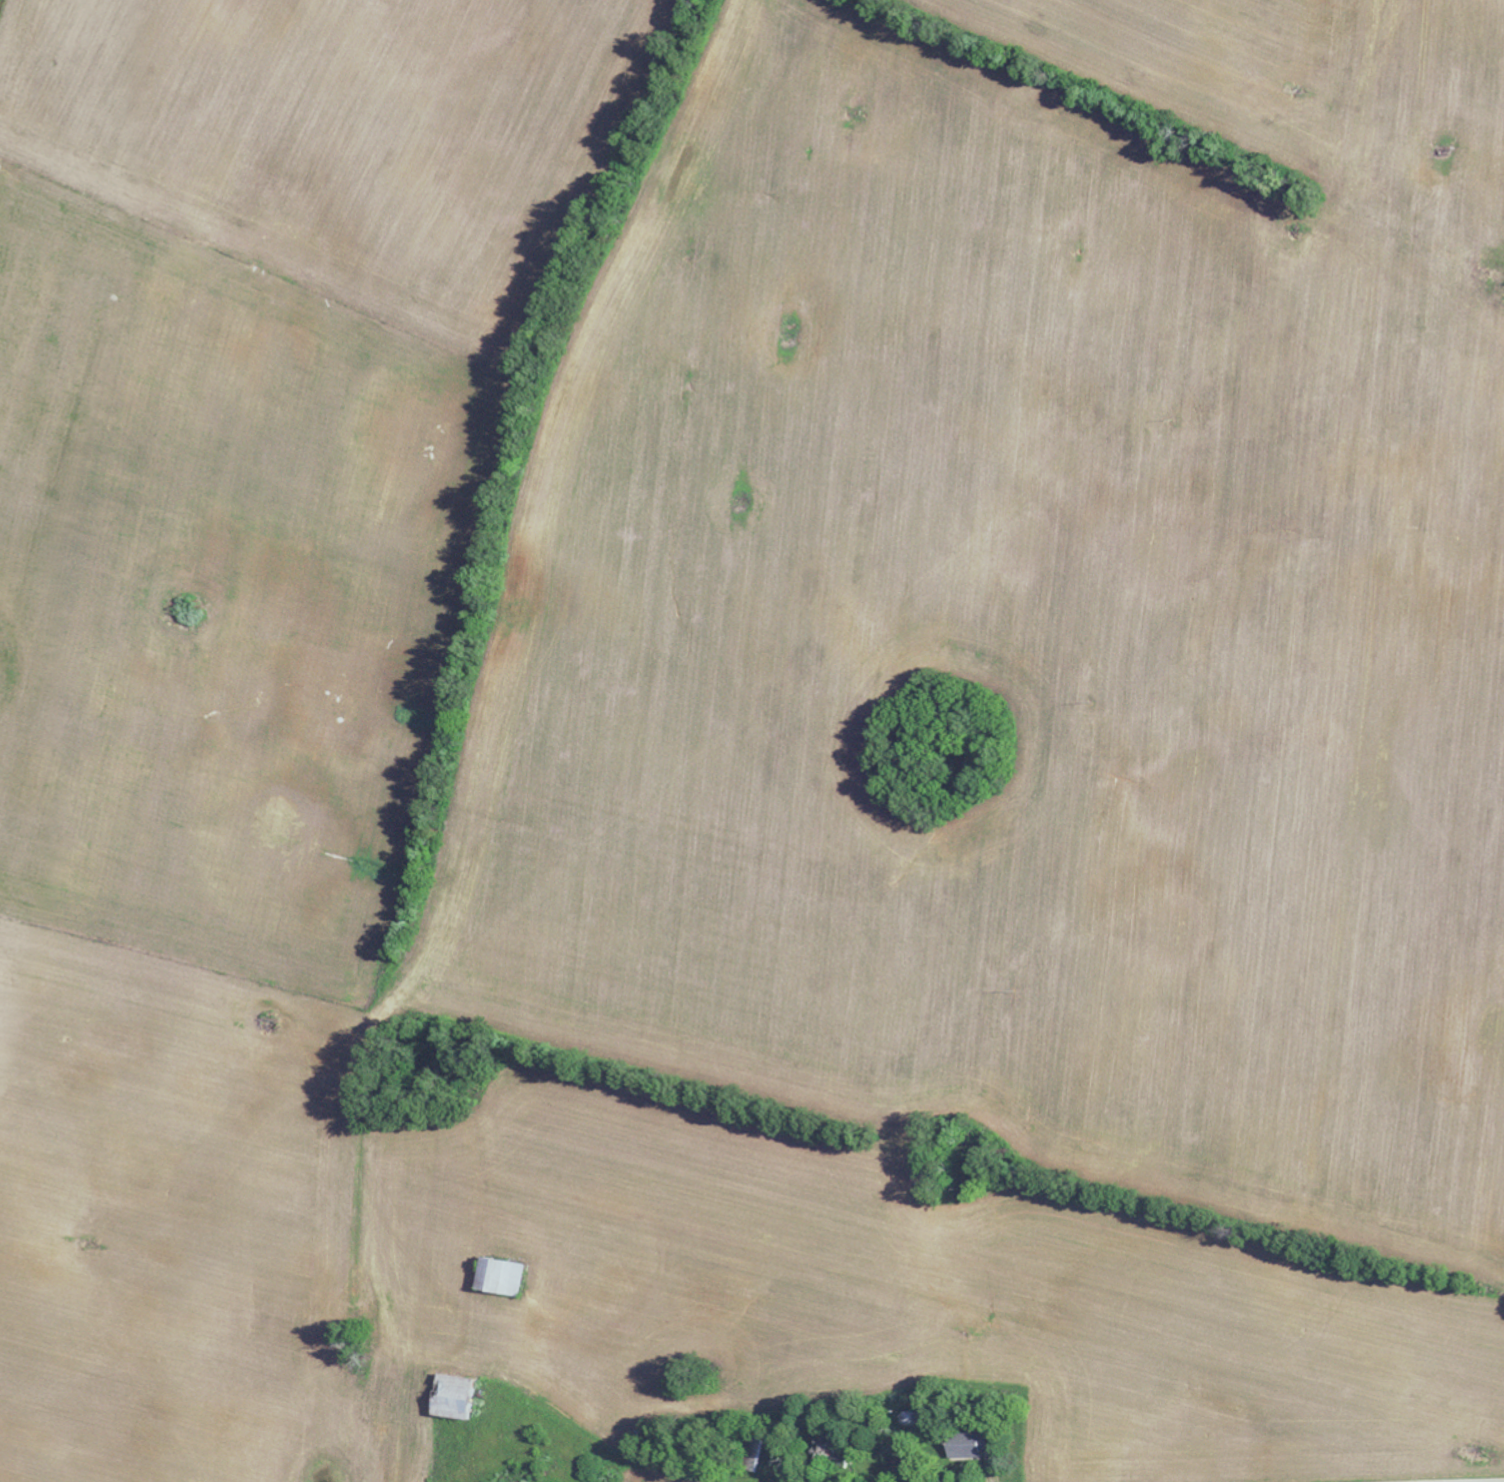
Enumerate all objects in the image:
road: (949, 1410)
building: (973, 1445)

